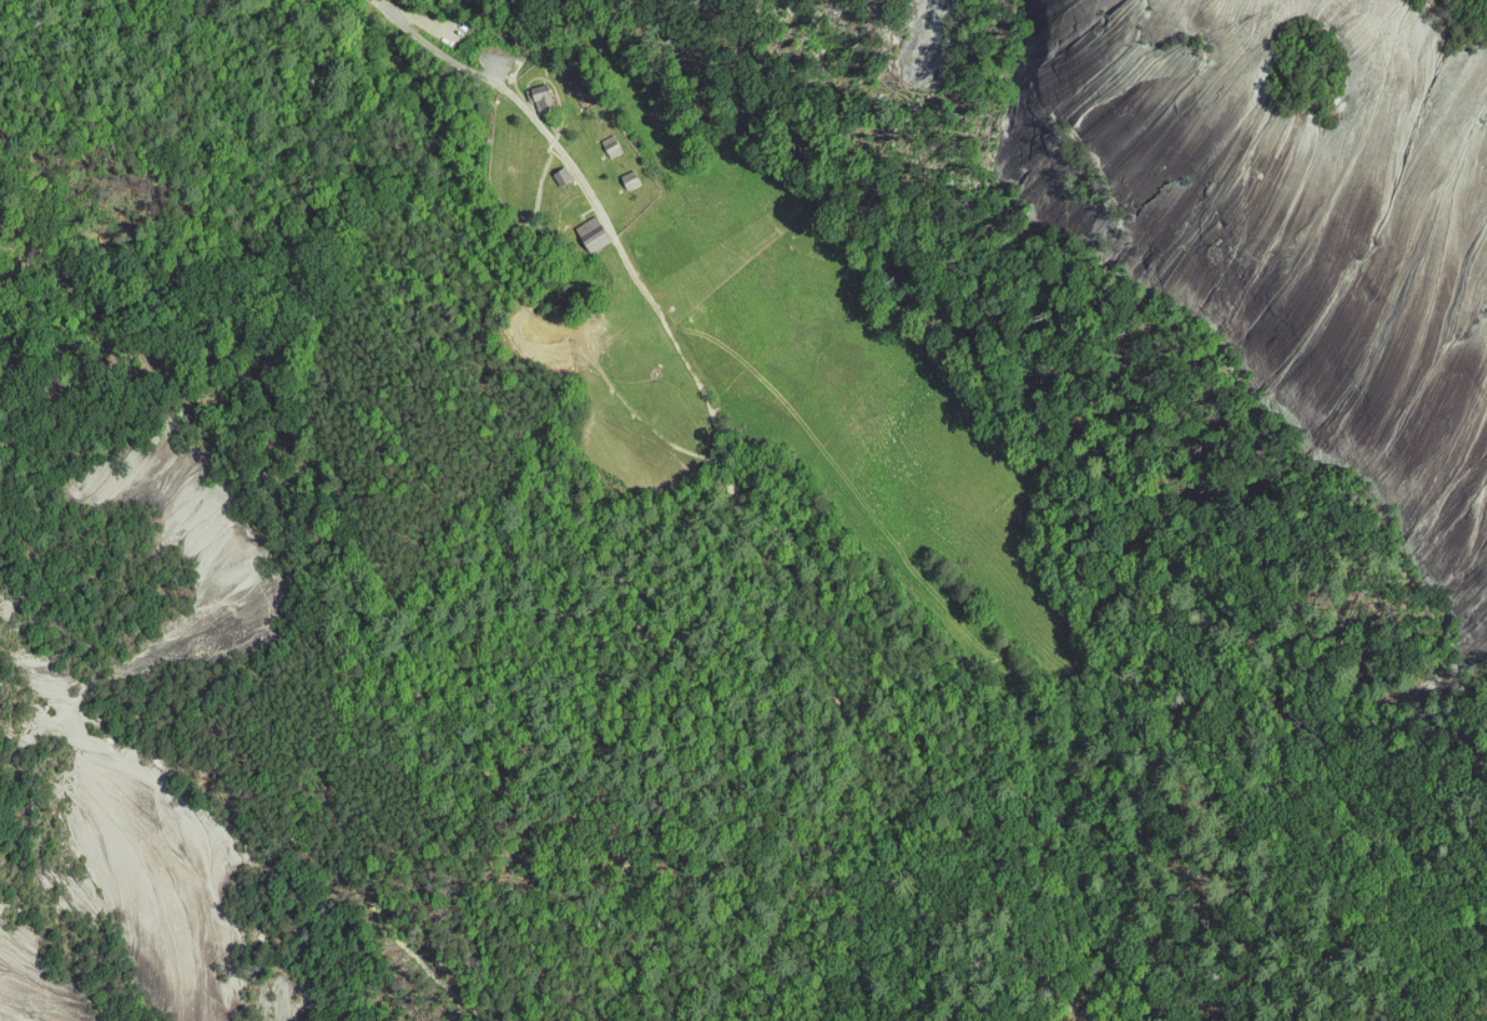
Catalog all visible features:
road: (384, 4)
parking lot: (462, 46)
road: (445, 52)
building: (542, 96)
road: (533, 114)
road: (333, 129)
building: (613, 144)
building: (564, 174)
building: (632, 178)
road: (542, 183)
road: (589, 187)
building: (594, 232)
road: (517, 237)
building: (606, 248)
road: (502, 258)
road: (678, 343)
road: (603, 371)
road: (726, 469)
road: (965, 689)
road: (255, 796)
road: (853, 806)
road: (1116, 974)
road: (1157, 996)

